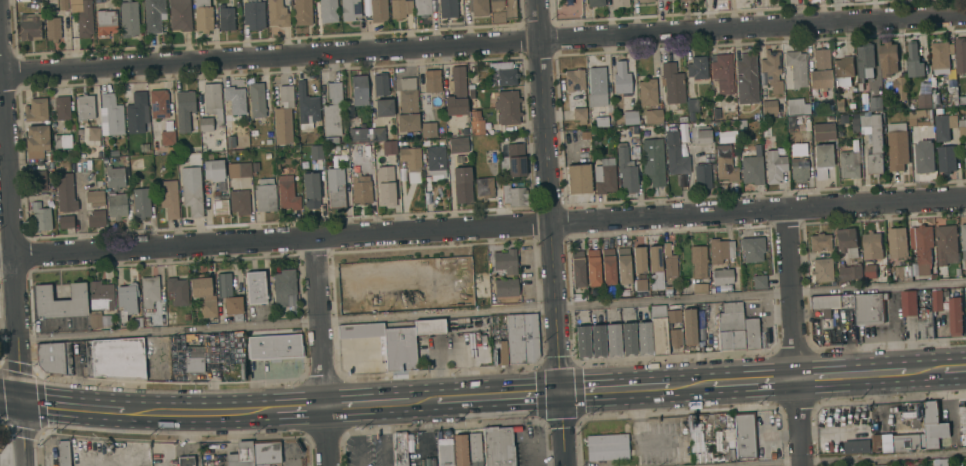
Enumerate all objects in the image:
building: (644, 0)
building: (661, 0)
building: (685, 0)
building: (595, 3)
building: (619, 3)
building: (63, 5)
building: (478, 7)
building: (400, 8)
building: (422, 8)
building: (447, 8)
building: (350, 10)
park: (569, 10)
building: (328, 11)
building: (378, 11)
building: (503, 11)
building: (302, 12)
building: (277, 13)
building: (253, 14)
building: (154, 15)
building: (180, 15)
building: (203, 16)
building: (129, 17)
building: (225, 18)
building: (84, 20)
building: (105, 22)
building: (30, 26)
building: (52, 29)
road: (482, 42)
building: (960, 54)
building: (942, 57)
building: (888, 59)
building: (866, 61)
building: (914, 61)
building: (697, 67)
building: (796, 68)
building: (771, 70)
building: (820, 70)
building: (843, 71)
building: (503, 74)
building: (722, 74)
building: (621, 79)
building: (746, 79)
building: (574, 80)
building: (672, 83)
building: (380, 85)
building: (432, 85)
building: (597, 86)
building: (900, 87)
building: (925, 87)
building: (359, 90)
building: (647, 92)
building: (456, 93)
building: (953, 96)
building: (235, 98)
building: (935, 98)
building: (256, 100)
building: (962, 100)
building: (213, 101)
building: (925, 101)
building: (875, 103)
building: (158, 104)
building: (851, 105)
building: (407, 106)
building: (772, 106)
building: (85, 107)
building: (507, 107)
building: (840, 107)
building: (62, 108)
building: (384, 108)
building: (692, 108)
building: (184, 109)
building: (306, 109)
building: (795, 109)
building: (35, 110)
building: (332, 110)
building: (938, 111)
building: (136, 113)
building: (716, 113)
building: (112, 114)
building: (917, 114)
building: (579, 115)
building: (283, 116)
building: (630, 117)
building: (651, 117)
building: (476, 123)
building: (600, 123)
building: (205, 124)
building: (716, 124)
building: (944, 127)
building: (72, 128)
building: (962, 128)
building: (912, 129)
building: (428, 130)
building: (766, 130)
building: (823, 131)
building: (592, 132)
building: (634, 133)
building: (91, 134)
building: (358, 134)
building: (378, 134)
building: (586, 135)
building: (699, 135)
building: (37, 138)
building: (167, 138)
building: (329, 140)
building: (62, 141)
building: (874, 142)
building: (240, 143)
building: (793, 143)
building: (458, 144)
building: (897, 146)
building: (389, 148)
building: (965, 150)
building: (635, 152)
building: (316, 153)
building: (676, 155)
building: (267, 156)
building: (925, 156)
building: (47, 157)
building: (411, 158)
building: (435, 158)
building: (946, 159)
building: (822, 160)
building: (513, 161)
building: (653, 161)
building: (139, 163)
building: (849, 164)
building: (725, 165)
building: (255, 167)
building: (774, 167)
building: (239, 170)
building: (751, 170)
building: (798, 170)
building: (626, 172)
building: (215, 173)
building: (604, 176)
building: (702, 177)
building: (114, 178)
building: (578, 179)
building: (38, 181)
building: (462, 185)
building: (385, 186)
building: (335, 187)
building: (484, 188)
building: (361, 189)
building: (191, 190)
building: (311, 190)
building: (65, 193)
building: (287, 193)
building: (265, 195)
building: (516, 196)
road: (547, 196)
building: (94, 198)
building: (168, 198)
building: (51, 199)
building: (141, 202)
building: (239, 202)
building: (116, 205)
building: (220, 205)
building: (40, 217)
building: (96, 219)
building: (65, 222)
road: (483, 228)
road: (10, 236)
building: (819, 242)
building: (846, 242)
building: (897, 242)
building: (946, 244)
building: (963, 244)
building: (873, 246)
building: (922, 247)
building: (753, 249)
building: (720, 250)
building: (504, 260)
building: (638, 260)
building: (698, 262)
building: (669, 264)
building: (608, 266)
building: (462, 267)
building: (593, 267)
building: (654, 267)
building: (577, 269)
building: (623, 270)
building: (822, 270)
building: (870, 271)
building: (903, 272)
building: (958, 272)
building: (850, 273)
building: (721, 276)
building: (759, 282)
building: (223, 285)
building: (640, 285)
building: (283, 286)
building: (255, 288)
building: (506, 288)
building: (699, 288)
building: (149, 291)
building: (177, 291)
building: (668, 291)
building: (101, 296)
building: (203, 296)
building: (126, 300)
building: (937, 300)
building: (60, 302)
building: (909, 304)
building: (233, 305)
building: (458, 305)
building: (831, 306)
building: (292, 308)
building: (870, 309)
road: (491, 311)
building: (186, 316)
building: (673, 316)
building: (956, 316)
building: (237, 318)
building: (94, 319)
building: (700, 320)
building: (146, 321)
building: (138, 323)
building: (926, 324)
building: (688, 326)
building: (429, 327)
building: (731, 327)
building: (361, 331)
building: (659, 331)
building: (752, 334)
building: (700, 335)
road: (1, 336)
building: (643, 337)
building: (628, 338)
building: (675, 338)
road: (791, 338)
building: (522, 339)
building: (613, 339)
building: (597, 340)
building: (582, 341)
building: (765, 341)
building: (274, 347)
building: (400, 349)
building: (500, 352)
road: (322, 353)
building: (195, 354)
building: (54, 358)
building: (114, 359)
road: (953, 369)
road: (924, 371)
road: (850, 376)
road: (753, 382)
road: (693, 386)
road: (616, 390)
traffic signals: (558, 393)
road: (959, 396)
road: (499, 397)
road: (10, 400)
traffic signals: (20, 402)
road: (422, 402)
road: (364, 405)
road: (73, 407)
road: (299, 409)
road: (201, 413)
road: (39, 416)
building: (917, 423)
road: (1, 424)
building: (516, 429)
road: (560, 429)
road: (22, 434)
building: (915, 434)
building: (745, 435)
building: (692, 439)
building: (725, 440)
building: (498, 446)
building: (856, 446)
building: (606, 447)
building: (400, 449)
building: (474, 449)
building: (460, 450)
building: (63, 453)
building: (266, 453)
building: (241, 455)
building: (443, 455)
building: (772, 456)
building: (147, 459)
road: (874, 459)
building: (185, 461)
building: (956, 464)
building: (881, 465)

